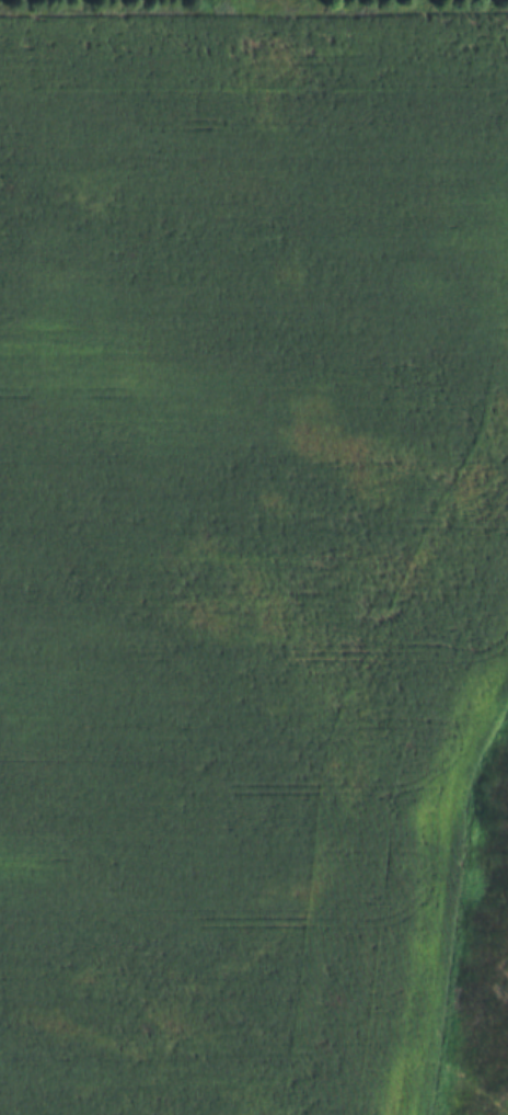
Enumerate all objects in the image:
road: (434, 869)

